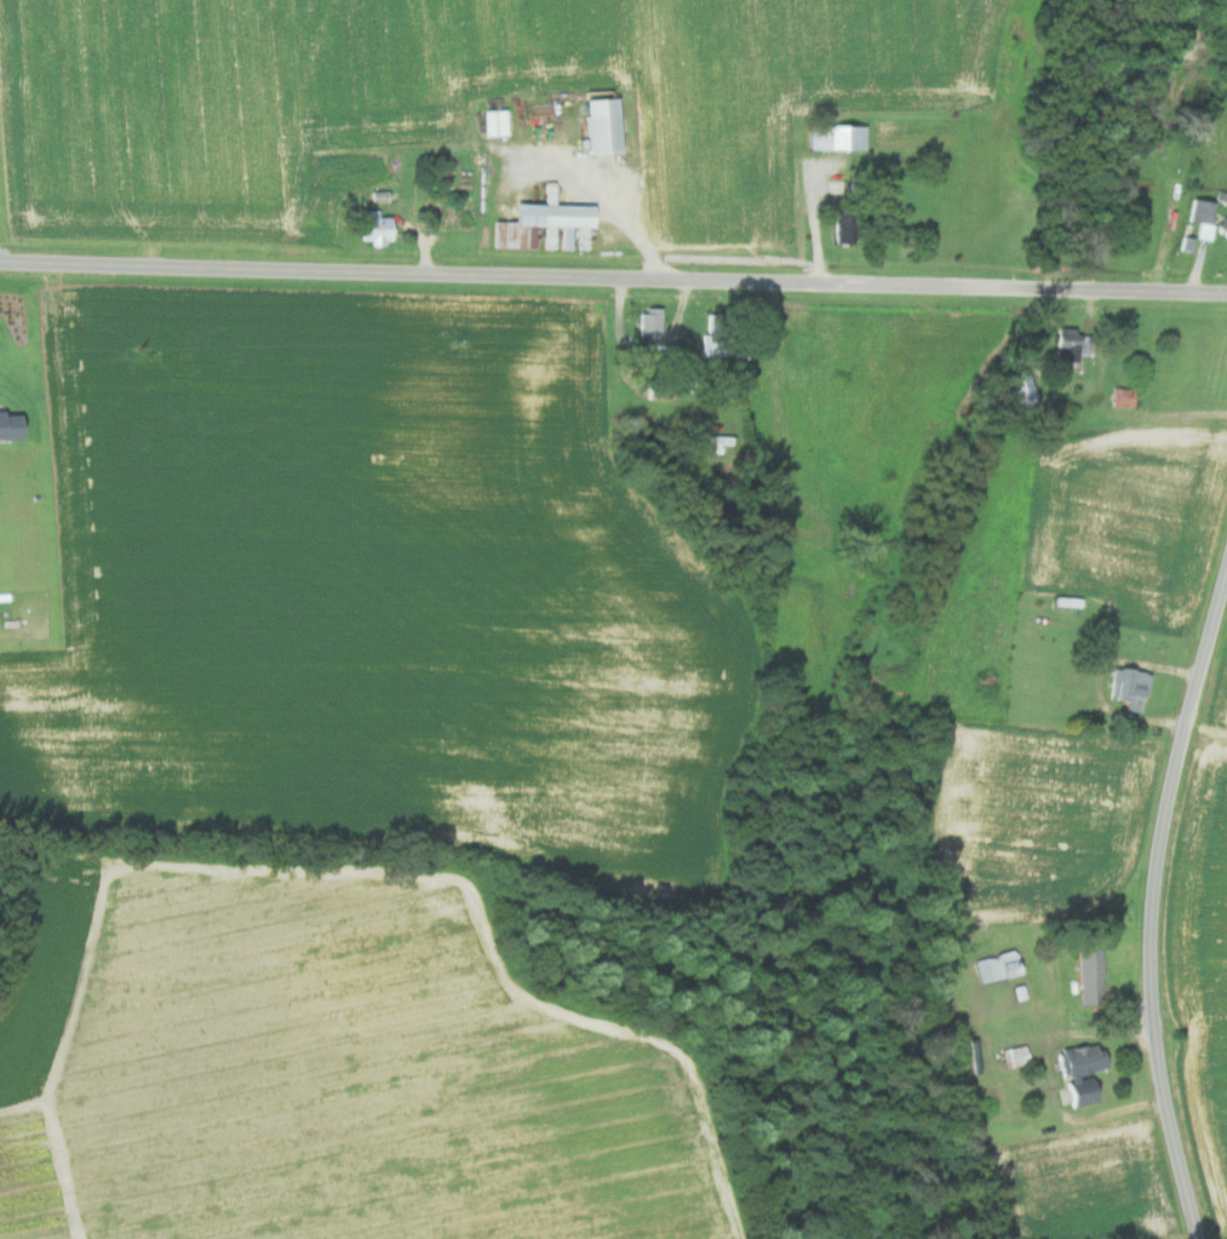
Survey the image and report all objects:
building: (495, 121)
building: (600, 125)
building: (835, 136)
building: (1200, 211)
building: (534, 220)
road: (626, 225)
building: (372, 226)
building: (1223, 228)
road: (613, 280)
building: (648, 321)
building: (1070, 344)
building: (711, 350)
building: (1020, 386)
building: (1122, 396)
building: (10, 424)
building: (1126, 688)
road: (1151, 902)
building: (993, 965)
building: (1088, 975)
building: (1077, 1071)

